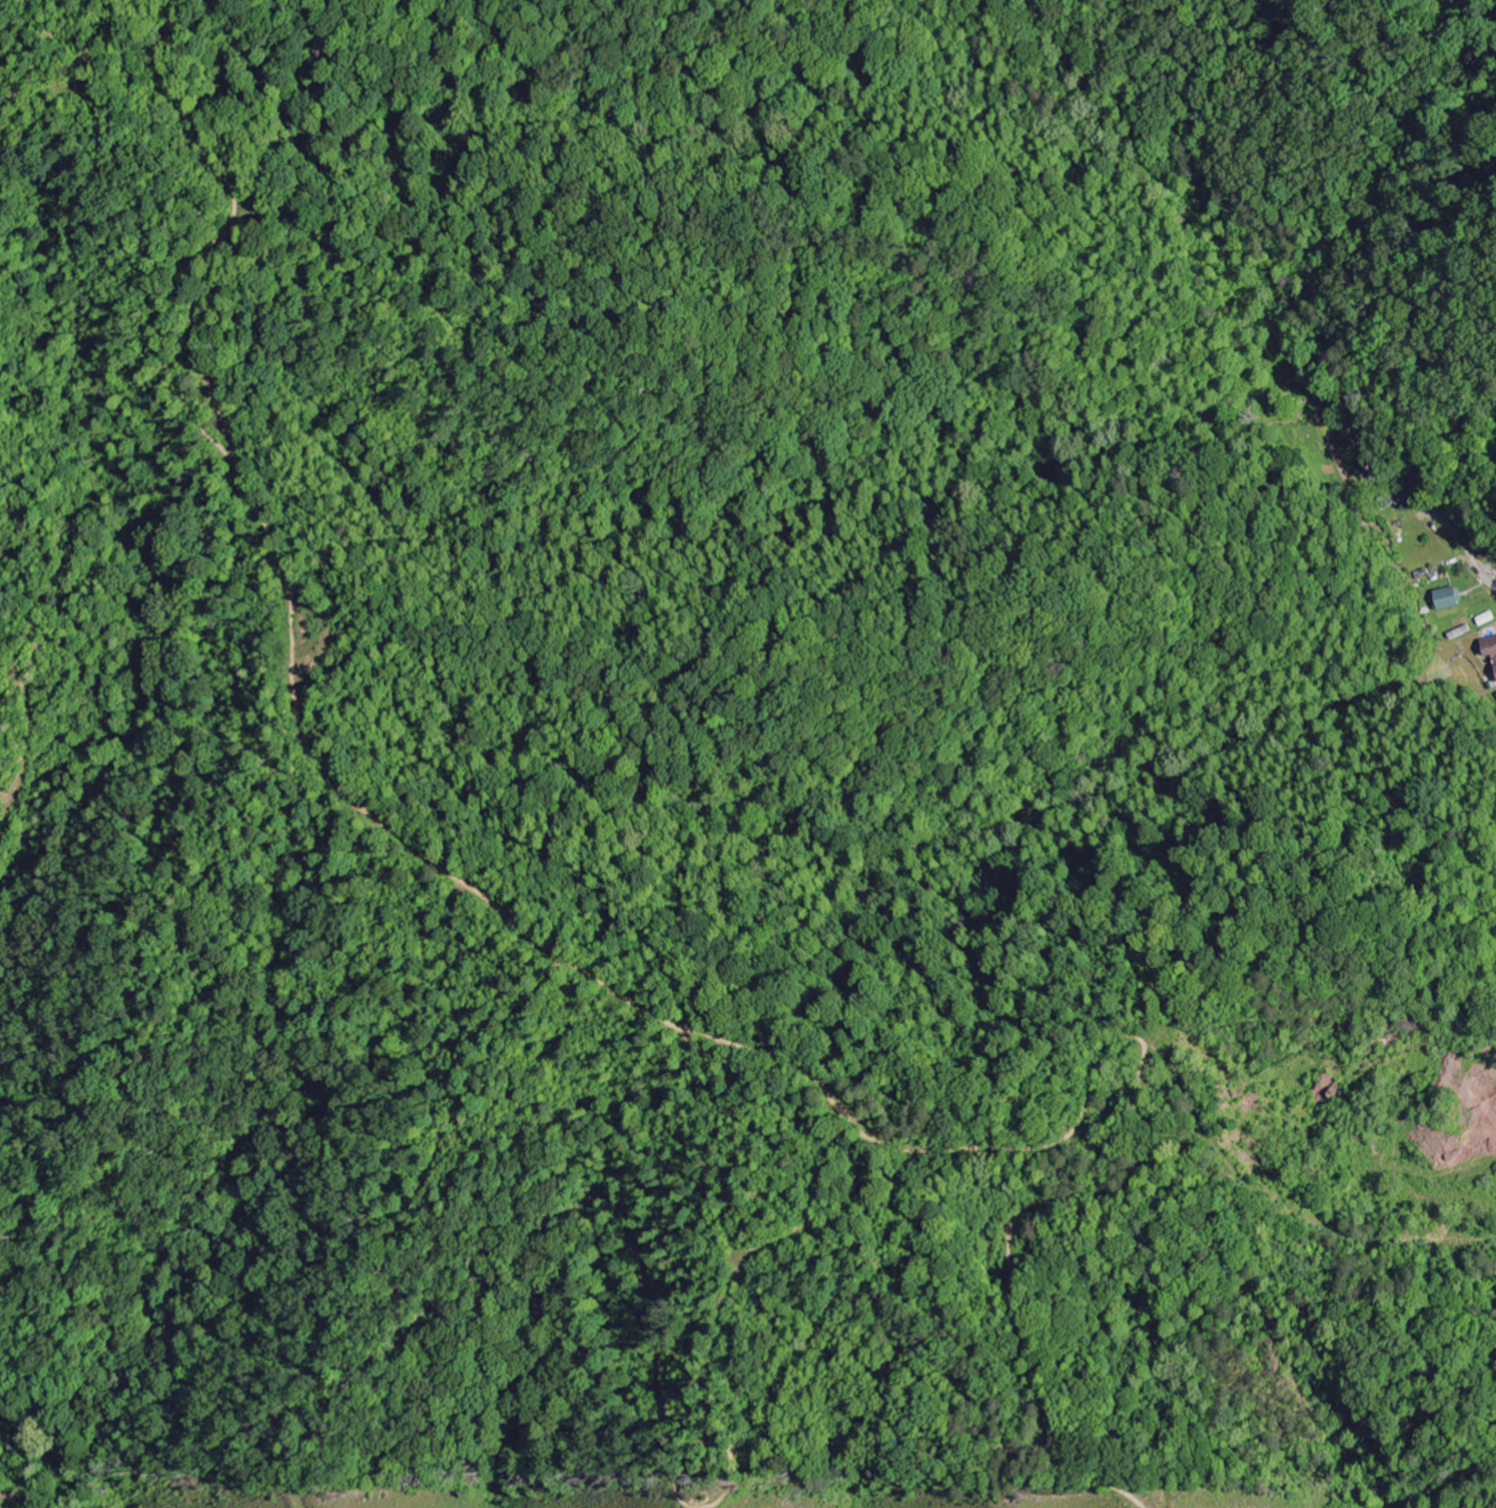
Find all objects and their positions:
road: (1489, 578)
building: (1449, 598)
building: (1491, 647)

